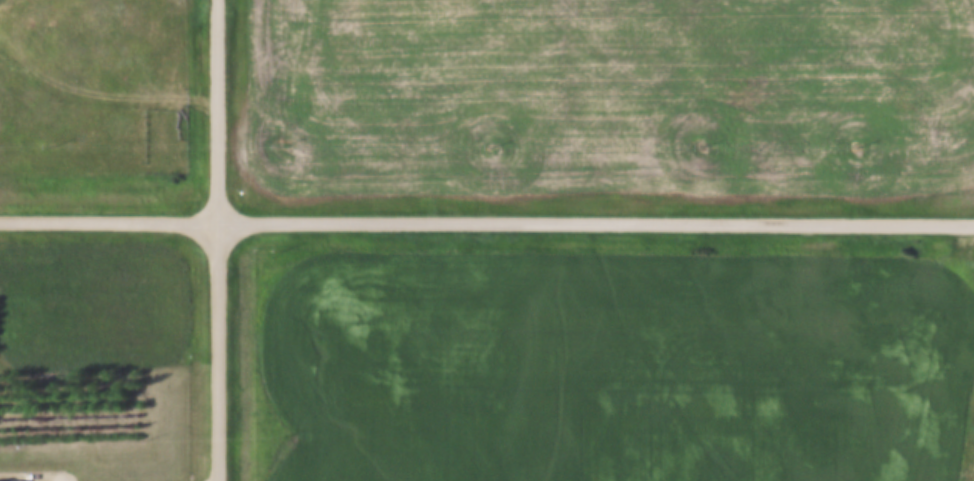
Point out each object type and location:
road: (487, 218)
road: (221, 240)

